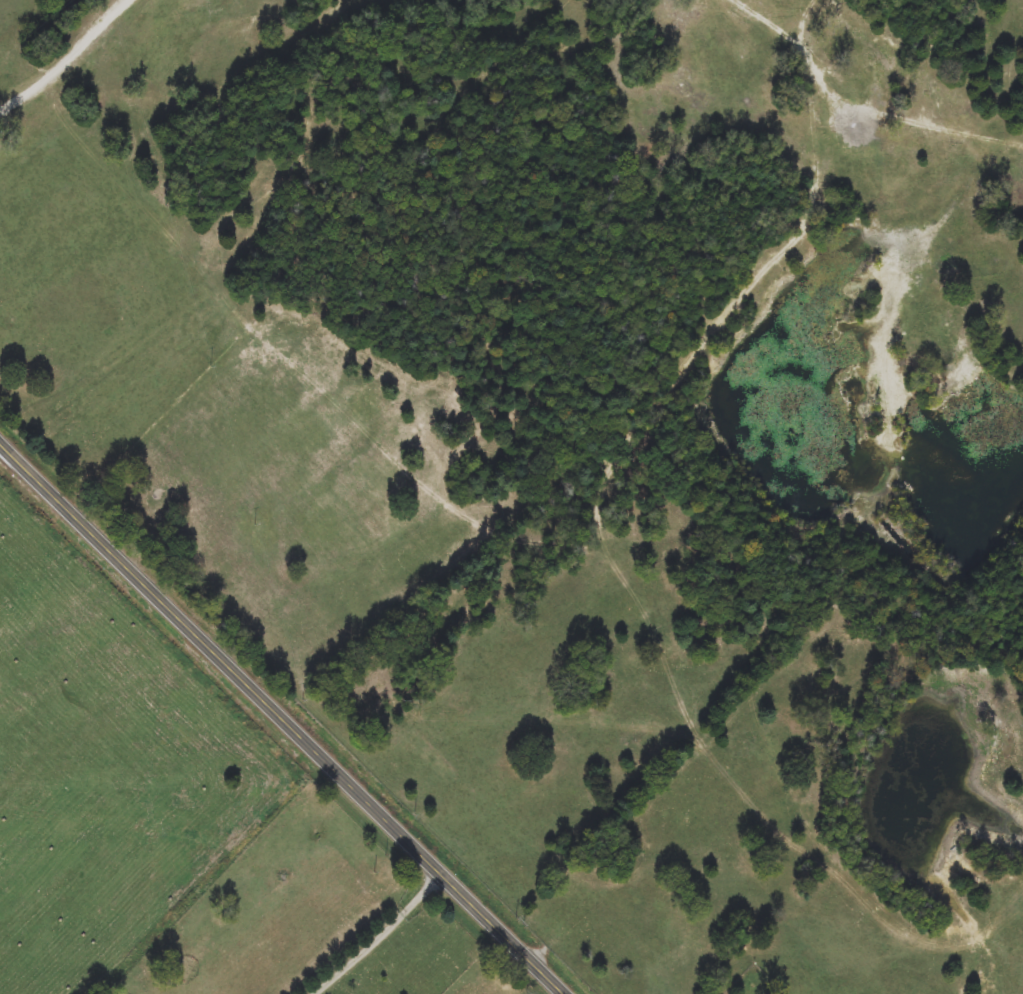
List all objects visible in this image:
road: (69, 55)
road: (286, 716)
road: (381, 934)

